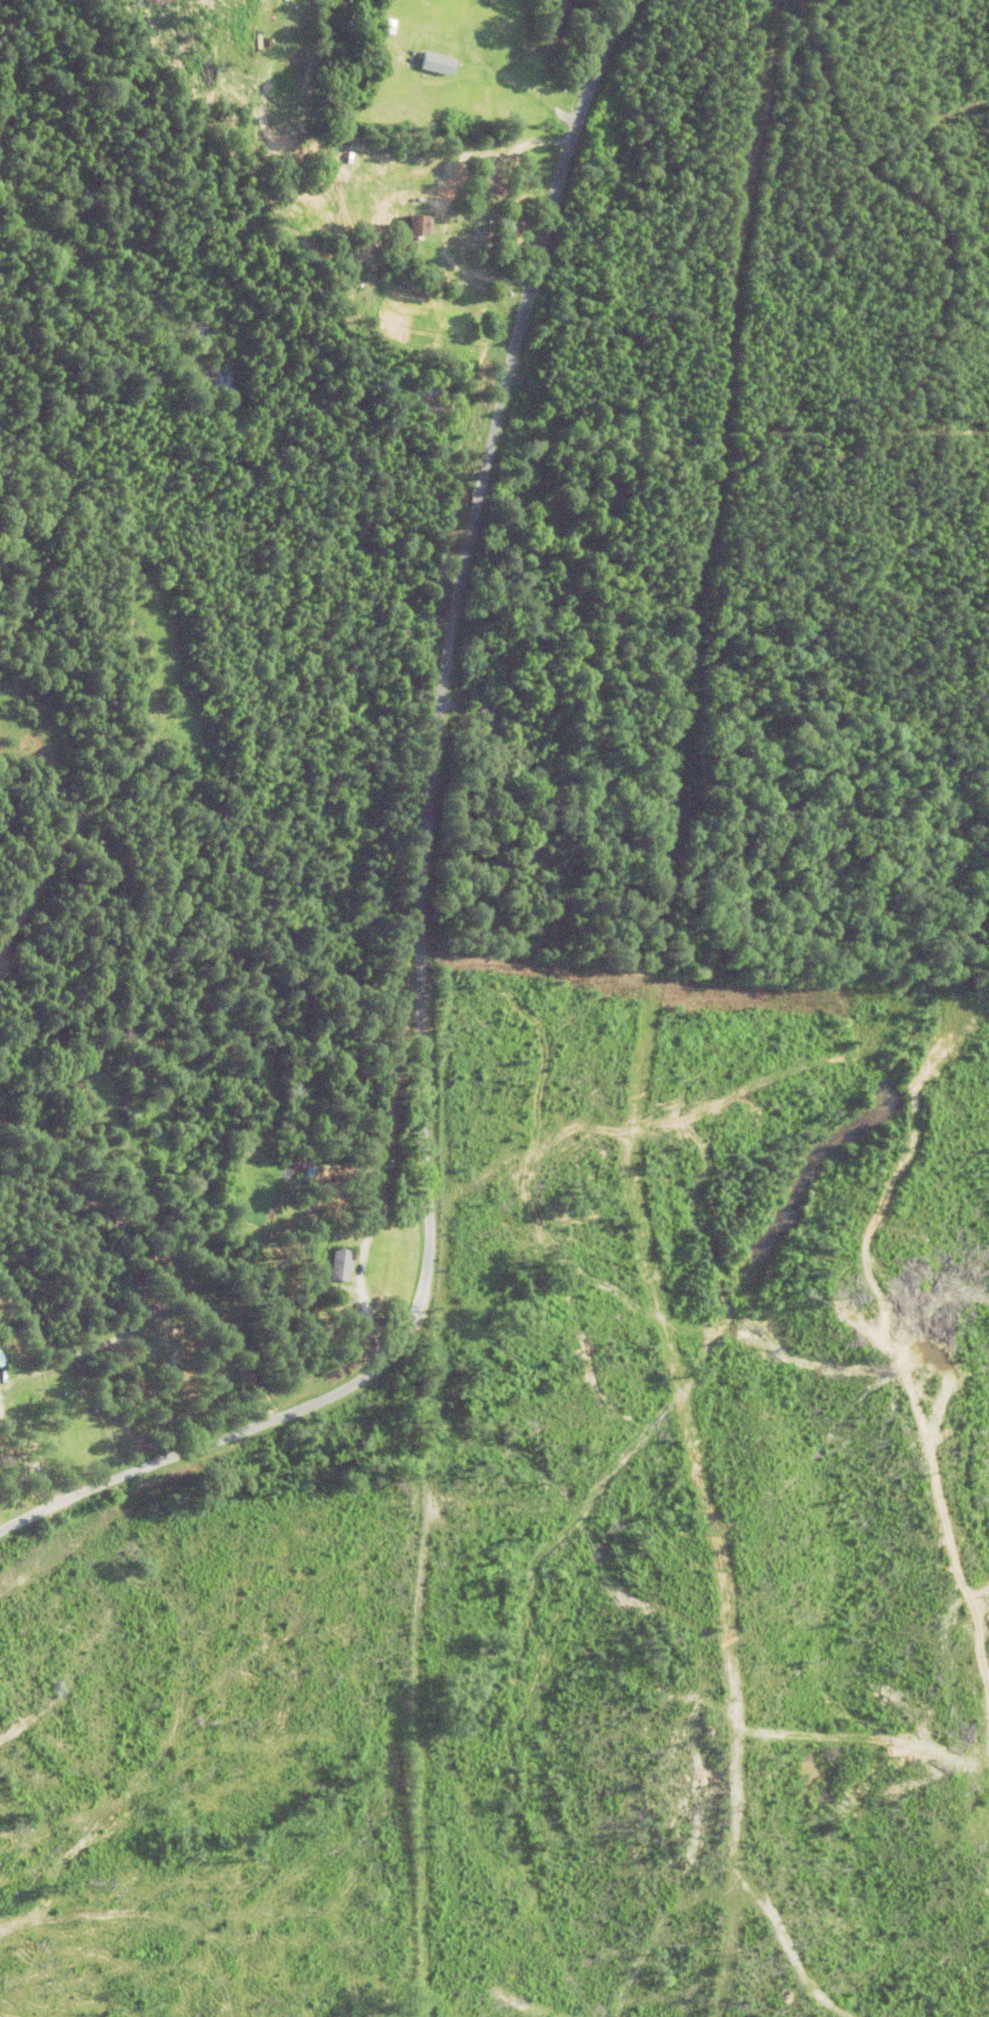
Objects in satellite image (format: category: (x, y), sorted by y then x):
building: (430, 62)
building: (410, 223)
building: (481, 721)
road: (402, 860)
building: (253, 1173)
building: (306, 1175)
building: (334, 1265)

